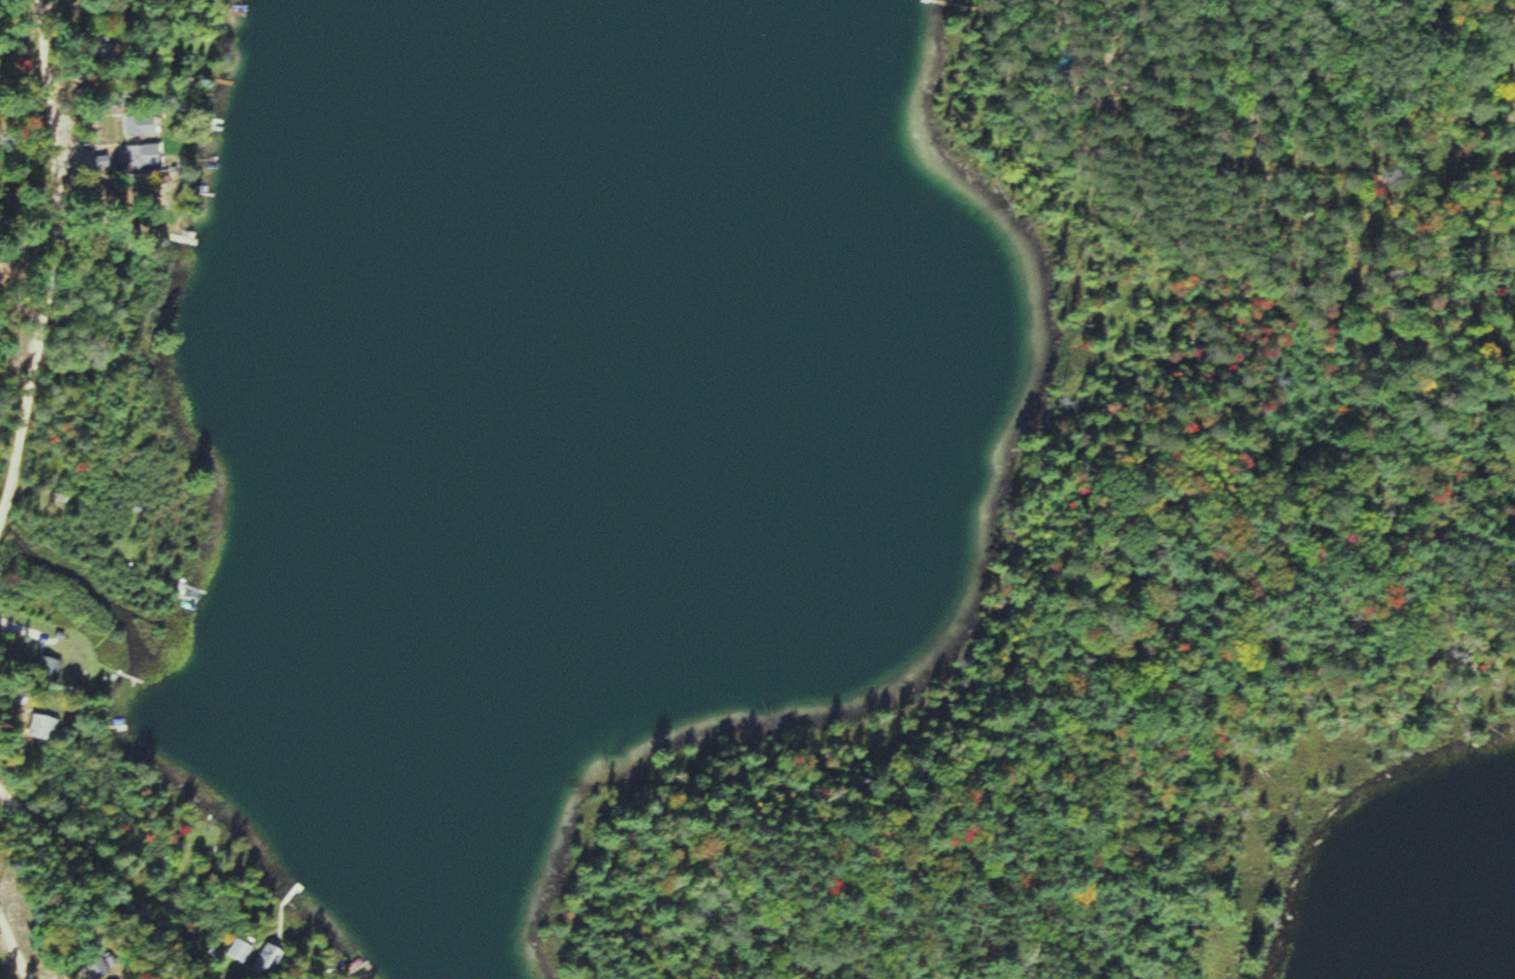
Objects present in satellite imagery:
building: (108, 47)
building: (144, 126)
building: (142, 155)
road: (1511, 174)
building: (112, 194)
road: (51, 263)
building: (10, 273)
building: (51, 669)
building: (46, 727)
building: (213, 834)
road: (105, 877)
road: (14, 947)
building: (243, 950)
building: (271, 959)
building: (100, 969)

